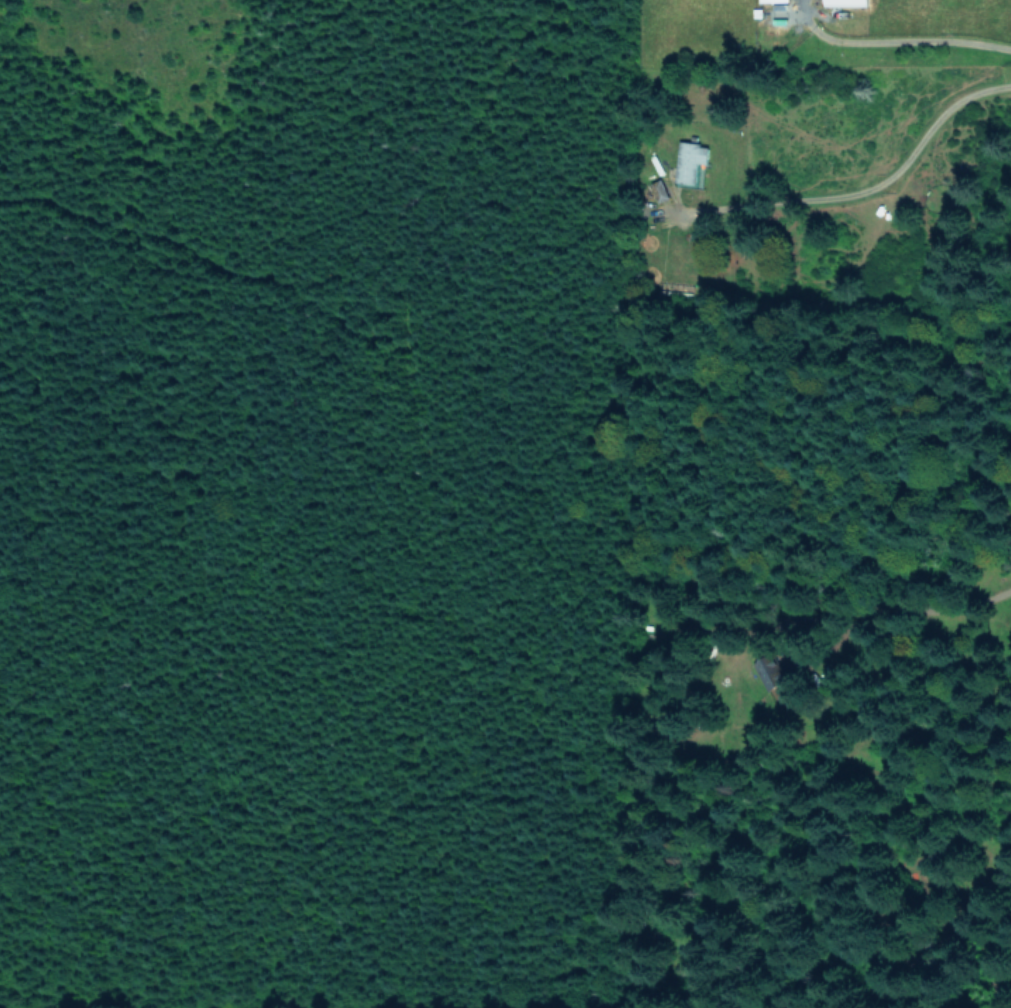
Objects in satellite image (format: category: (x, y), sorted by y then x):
building: (772, 0)
building: (844, 2)
road: (894, 33)
building: (688, 160)
road: (857, 182)
building: (773, 680)

